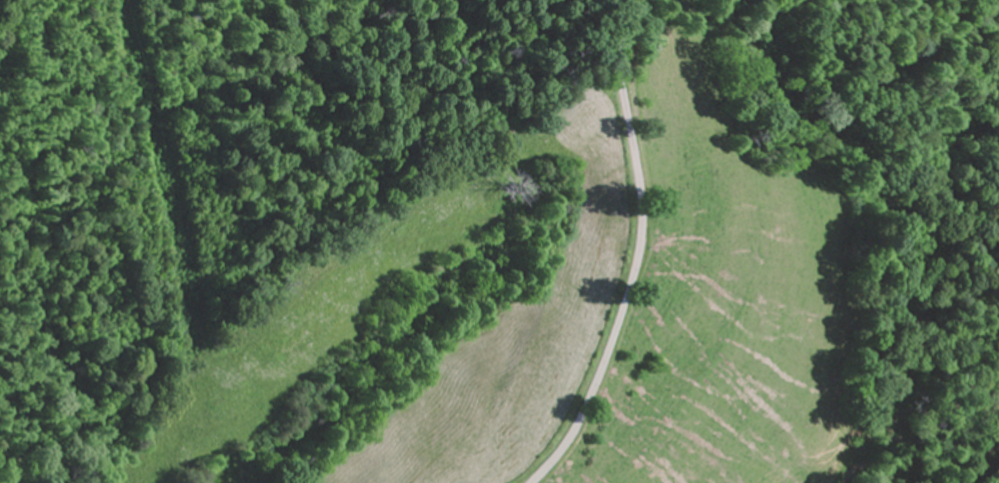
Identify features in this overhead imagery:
road: (639, 253)

